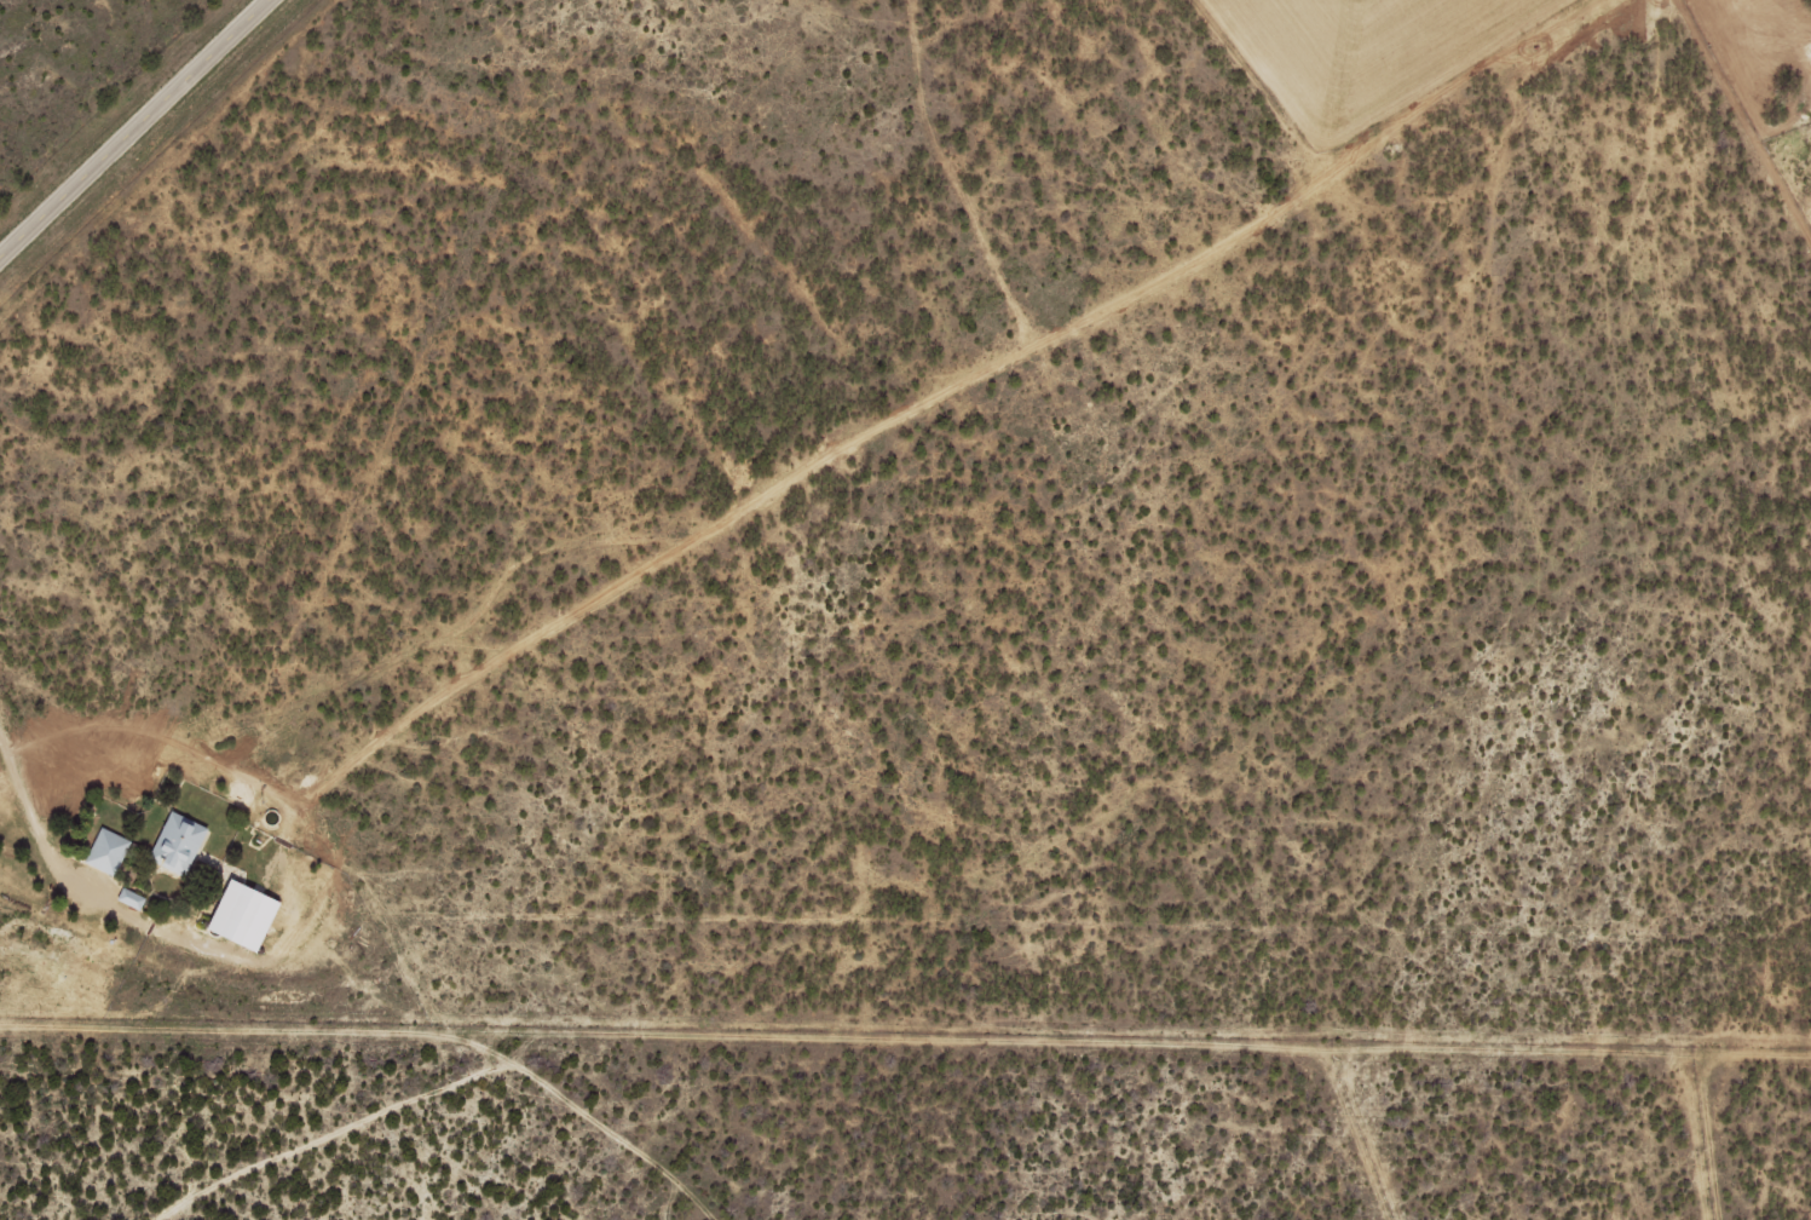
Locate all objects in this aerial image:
road: (1765, 40)
road: (134, 128)
building: (177, 844)
building: (106, 851)
building: (132, 899)
building: (242, 915)
road: (390, 1032)

